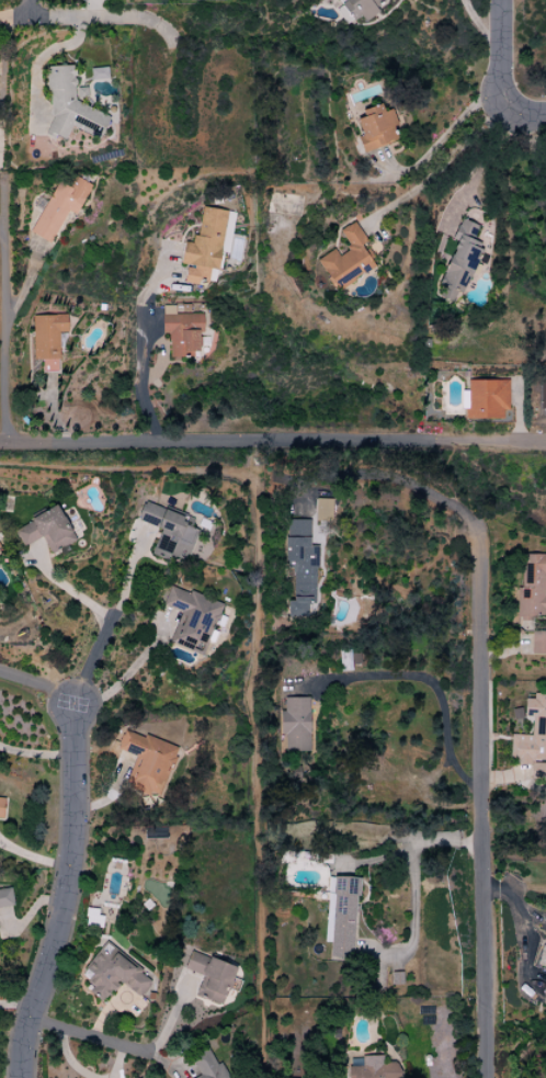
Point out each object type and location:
road: (89, 9)
building: (357, 9)
road: (12, 16)
road: (98, 18)
road: (479, 25)
road: (9, 36)
road: (503, 54)
road: (37, 59)
building: (68, 106)
road: (528, 113)
building: (375, 127)
road: (446, 133)
road: (477, 164)
road: (442, 166)
building: (58, 207)
building: (203, 248)
building: (345, 259)
building: (458, 261)
building: (180, 331)
road: (3, 333)
building: (46, 339)
road: (141, 353)
building: (542, 395)
building: (485, 398)
road: (276, 443)
road: (3, 446)
road: (315, 479)
road: (414, 485)
building: (321, 509)
building: (45, 530)
building: (167, 531)
building: (299, 566)
building: (531, 586)
road: (72, 591)
building: (190, 619)
road: (110, 627)
building: (537, 643)
road: (39, 686)
road: (436, 697)
building: (295, 724)
building: (532, 738)
road: (37, 753)
building: (145, 761)
road: (513, 778)
building: (1, 805)
road: (480, 812)
road: (33, 858)
road: (411, 878)
road: (66, 895)
building: (5, 897)
building: (340, 916)
building: (542, 958)
building: (112, 974)
building: (209, 976)
building: (544, 992)
road: (99, 1040)
building: (206, 1065)
building: (374, 1068)

